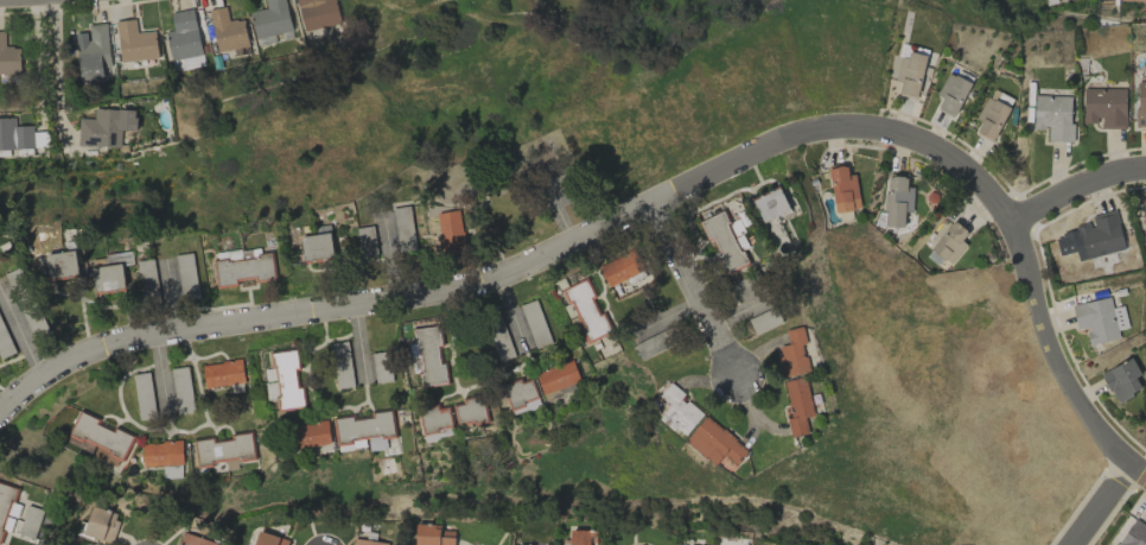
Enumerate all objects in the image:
building: (317, 13)
building: (269, 19)
building: (227, 31)
building: (183, 34)
building: (134, 42)
building: (94, 55)
building: (8, 58)
road: (39, 61)
road: (57, 71)
building: (910, 72)
building: (951, 94)
building: (1000, 96)
building: (1140, 102)
building: (1103, 107)
building: (1053, 116)
building: (991, 118)
building: (100, 128)
building: (14, 134)
building: (842, 188)
building: (897, 201)
building: (771, 204)
road: (560, 213)
building: (1145, 216)
building: (448, 233)
road: (586, 234)
building: (1091, 237)
building: (947, 239)
building: (726, 241)
building: (365, 242)
building: (317, 245)
road: (390, 254)
building: (62, 265)
building: (243, 266)
building: (620, 267)
building: (108, 278)
road: (171, 297)
building: (584, 310)
road: (700, 311)
road: (511, 313)
building: (1099, 319)
road: (669, 321)
road: (19, 332)
road: (359, 344)
road: (1055, 349)
building: (792, 353)
building: (429, 355)
building: (340, 365)
road: (160, 373)
building: (222, 373)
building: (556, 376)
building: (284, 379)
building: (1121, 380)
building: (521, 395)
building: (797, 405)
building: (470, 411)
building: (676, 411)
building: (433, 419)
building: (364, 430)
building: (311, 433)
building: (102, 435)
building: (714, 442)
building: (222, 450)
building: (161, 452)
road: (1138, 468)
road: (1101, 503)
building: (7, 508)
building: (101, 524)
building: (432, 534)
building: (1133, 534)
building: (584, 537)
road: (45, 539)
building: (269, 539)
building: (193, 540)
building: (365, 541)
building: (524, 544)

